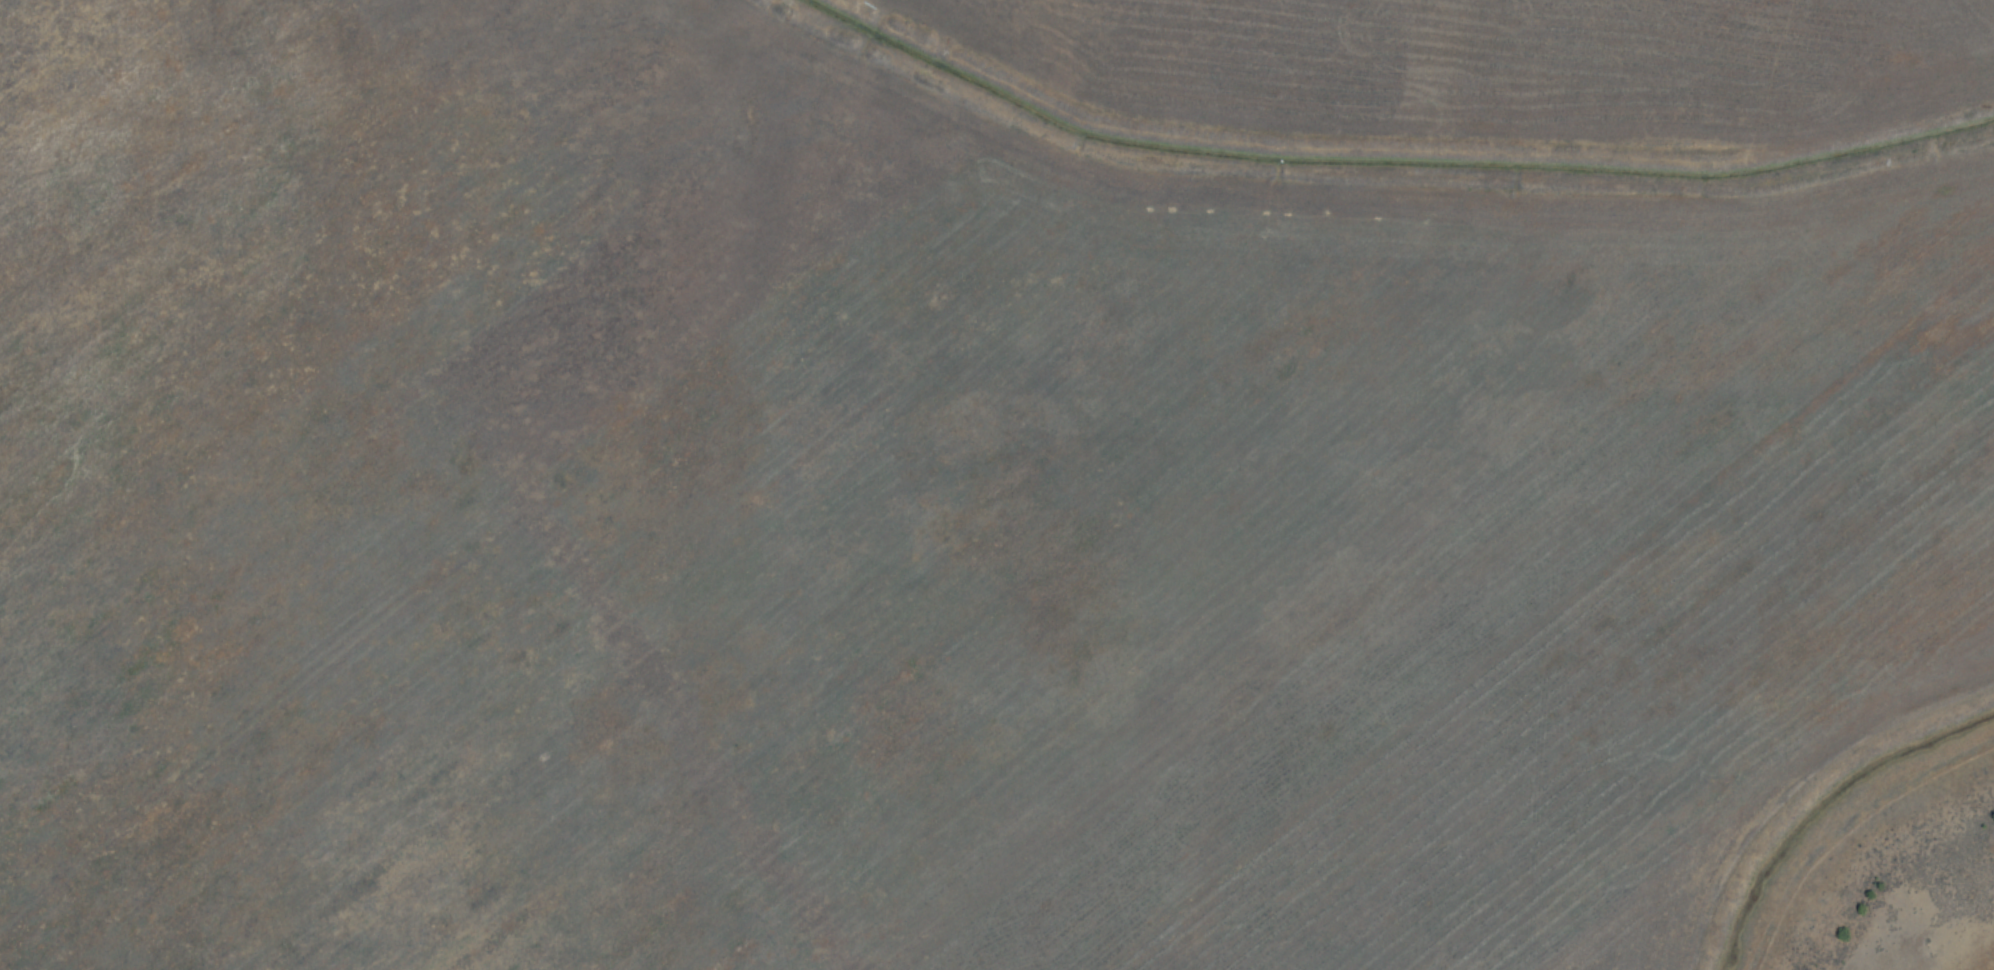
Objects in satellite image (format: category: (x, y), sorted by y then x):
crop: (1502, 75)
crop: (580, 177)
crop: (1308, 539)
crop: (297, 586)
crop: (1663, 912)

